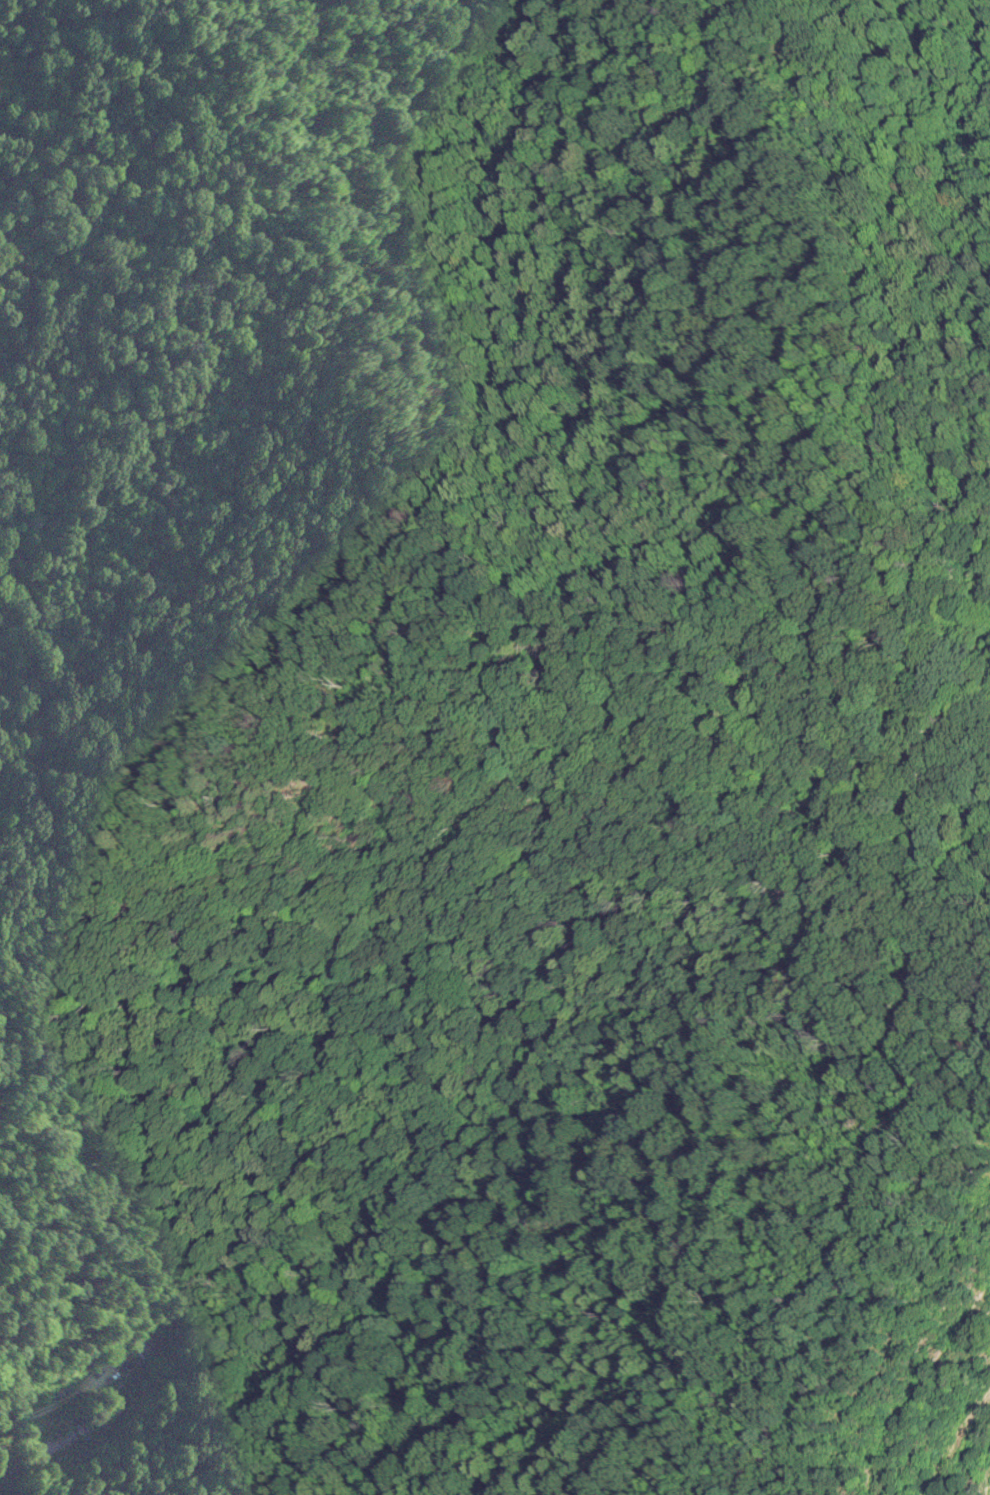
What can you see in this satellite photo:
road: (6, 1462)

